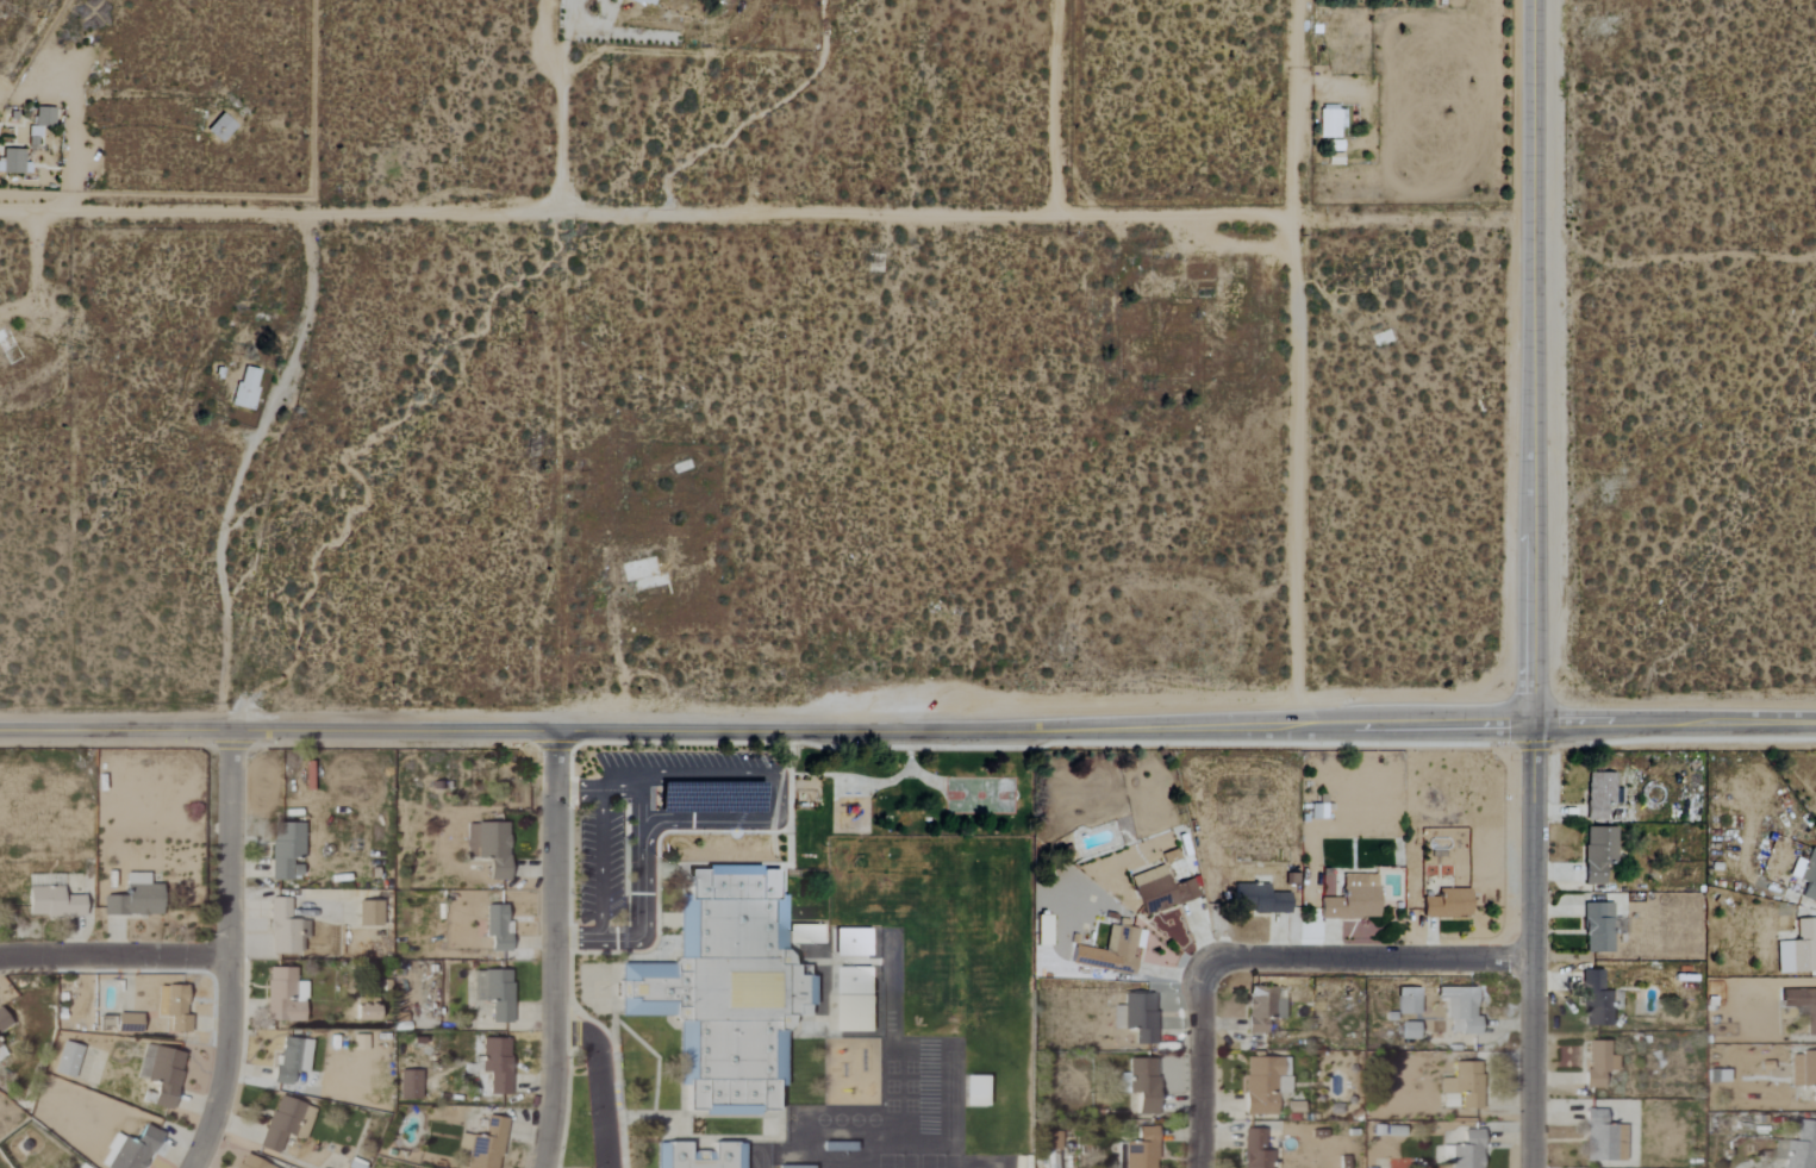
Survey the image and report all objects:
building: (645, 1)
road: (563, 104)
road: (1057, 107)
building: (45, 117)
building: (1330, 124)
building: (221, 129)
building: (13, 162)
road: (765, 214)
road: (1670, 258)
road: (1296, 361)
building: (248, 388)
road: (248, 466)
road: (1531, 583)
road: (907, 727)
road: (892, 780)
park: (980, 794)
park: (905, 795)
building: (1600, 795)
road: (638, 808)
road: (745, 820)
building: (491, 848)
building: (287, 849)
building: (1600, 854)
road: (600, 864)
building: (1806, 875)
building: (1163, 891)
building: (137, 899)
building: (1355, 899)
building: (1261, 900)
building: (55, 902)
building: (1449, 905)
building: (370, 914)
building: (283, 929)
building: (498, 929)
building: (1599, 929)
building: (806, 935)
building: (854, 943)
building: (1799, 950)
road: (561, 951)
building: (1113, 951)
road: (116, 954)
road: (233, 954)
road: (1365, 955)
building: (854, 981)
building: (495, 993)
building: (286, 997)
building: (1597, 1000)
building: (1409, 1001)
building: (1803, 1006)
building: (176, 1010)
building: (1263, 1010)
building: (1462, 1010)
building: (368, 1012)
building: (854, 1014)
building: (1138, 1017)
building: (4, 1020)
building: (1411, 1031)
building: (361, 1043)
building: (0, 1047)
building: (1574, 1057)
building: (68, 1060)
building: (293, 1061)
building: (498, 1064)
building: (1600, 1064)
building: (1804, 1070)
building: (163, 1074)
road: (1207, 1074)
building: (1143, 1083)
building: (1265, 1085)
building: (411, 1086)
road: (601, 1086)
building: (1464, 1087)
building: (287, 1124)
building: (1605, 1138)
building: (1053, 1142)
building: (486, 1145)
building: (1799, 1148)
building: (1143, 1149)
building: (131, 1150)
building: (1258, 1150)
building: (1466, 1151)
building: (1122, 1155)
building: (684, 1157)
building: (250, 1163)
building: (803, 1167)

